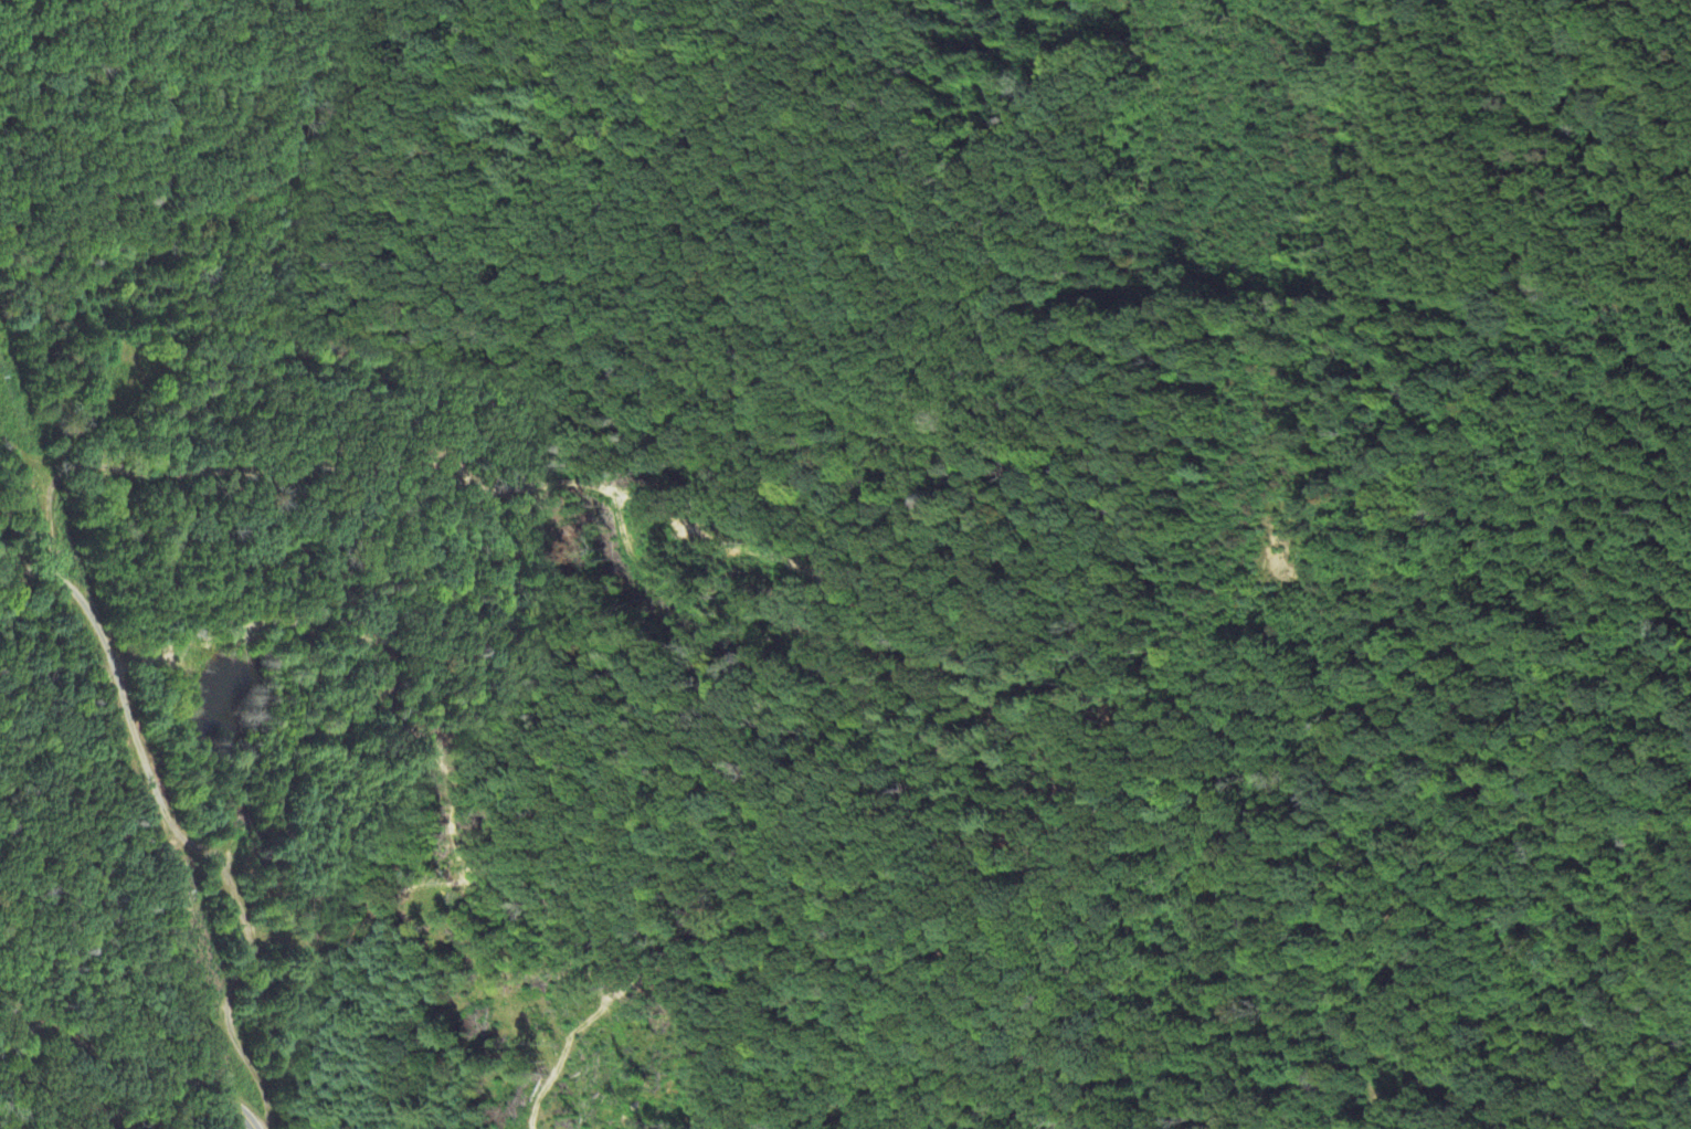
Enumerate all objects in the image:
road: (176, 829)
road: (131, 1069)

